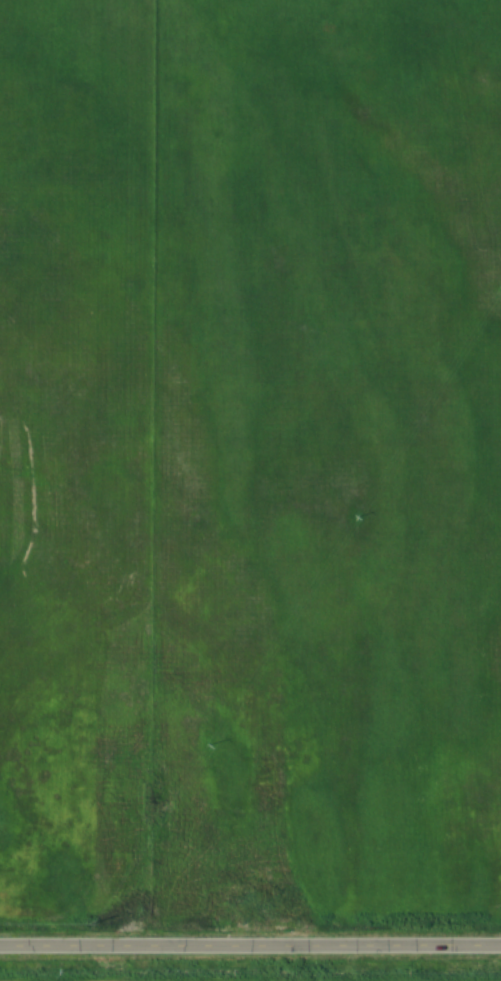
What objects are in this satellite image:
road: (250, 943)

